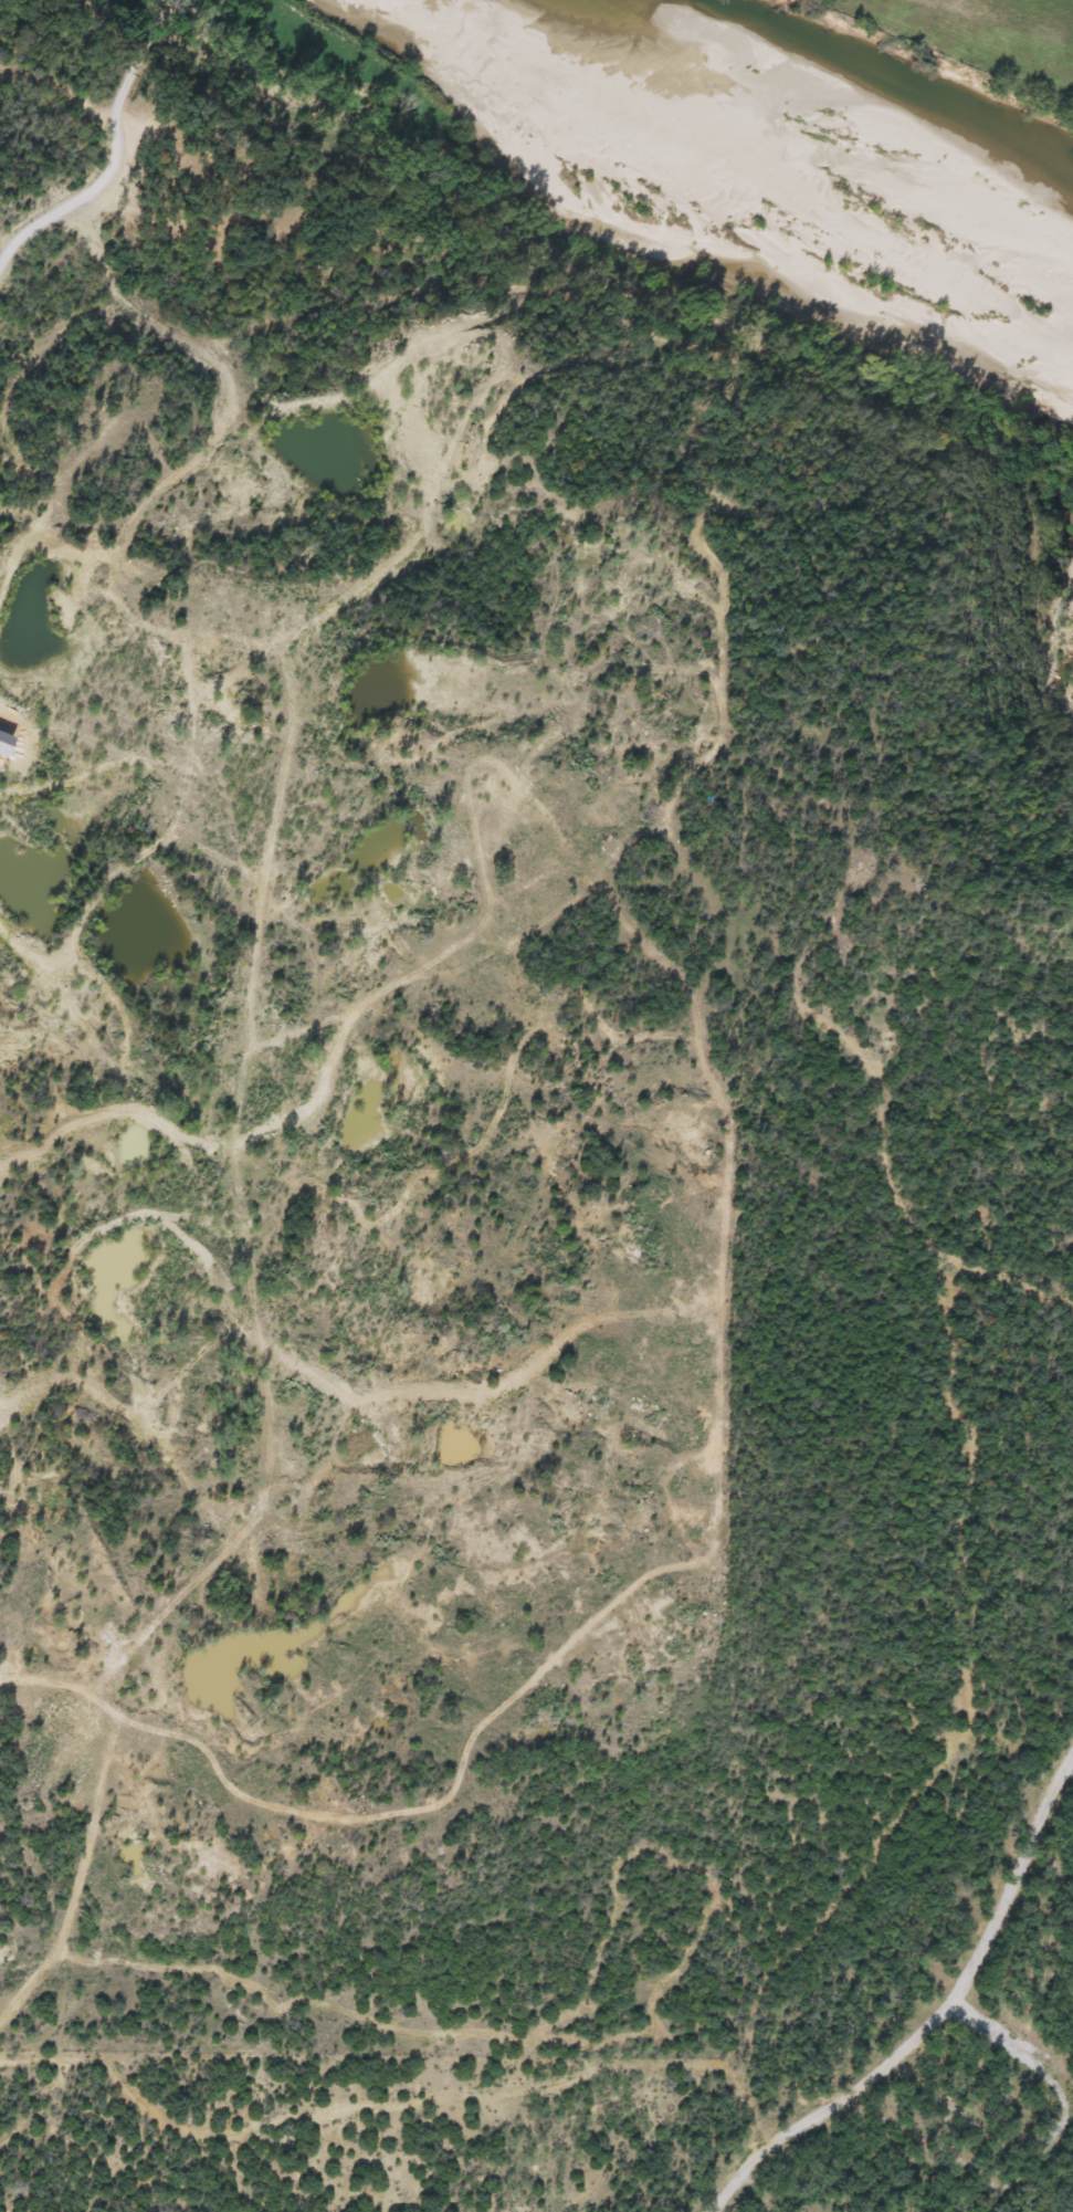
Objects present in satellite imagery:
river: (867, 88)
road: (120, 155)
road: (19, 2051)

